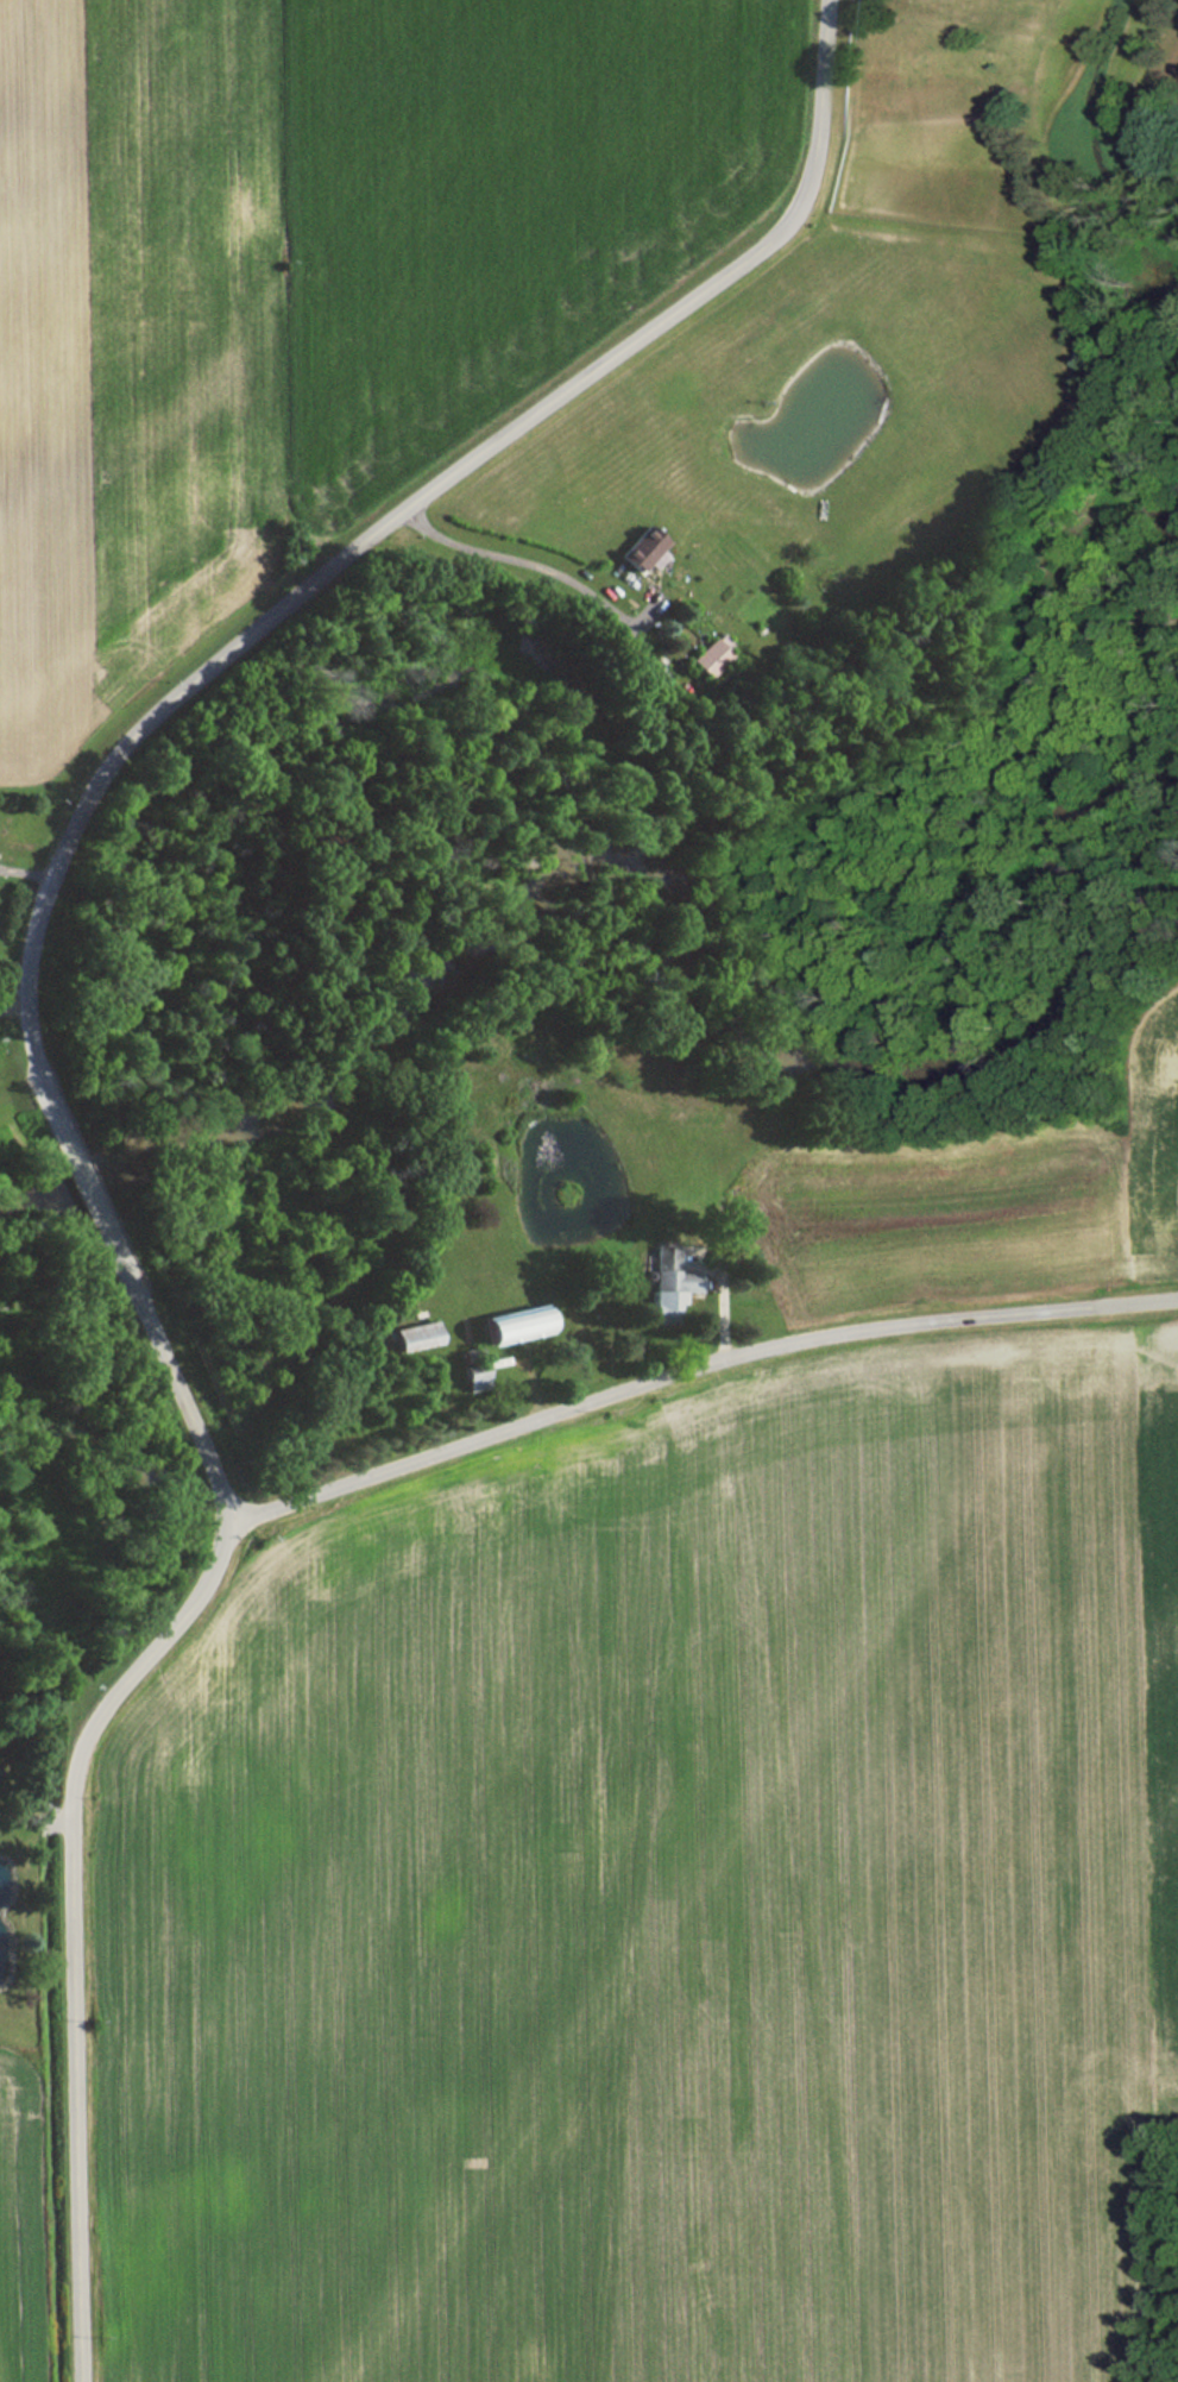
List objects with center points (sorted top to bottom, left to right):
crop: (314, 278)
road: (389, 532)
building: (642, 552)
building: (706, 659)
road: (87, 1180)
crop: (975, 1198)
building: (666, 1276)
building: (512, 1325)
building: (412, 1338)
road: (701, 1370)
road: (179, 1384)
crop: (1154, 1703)
road: (32, 1817)
crop: (650, 1915)
road: (67, 1924)
crop: (13, 2237)

